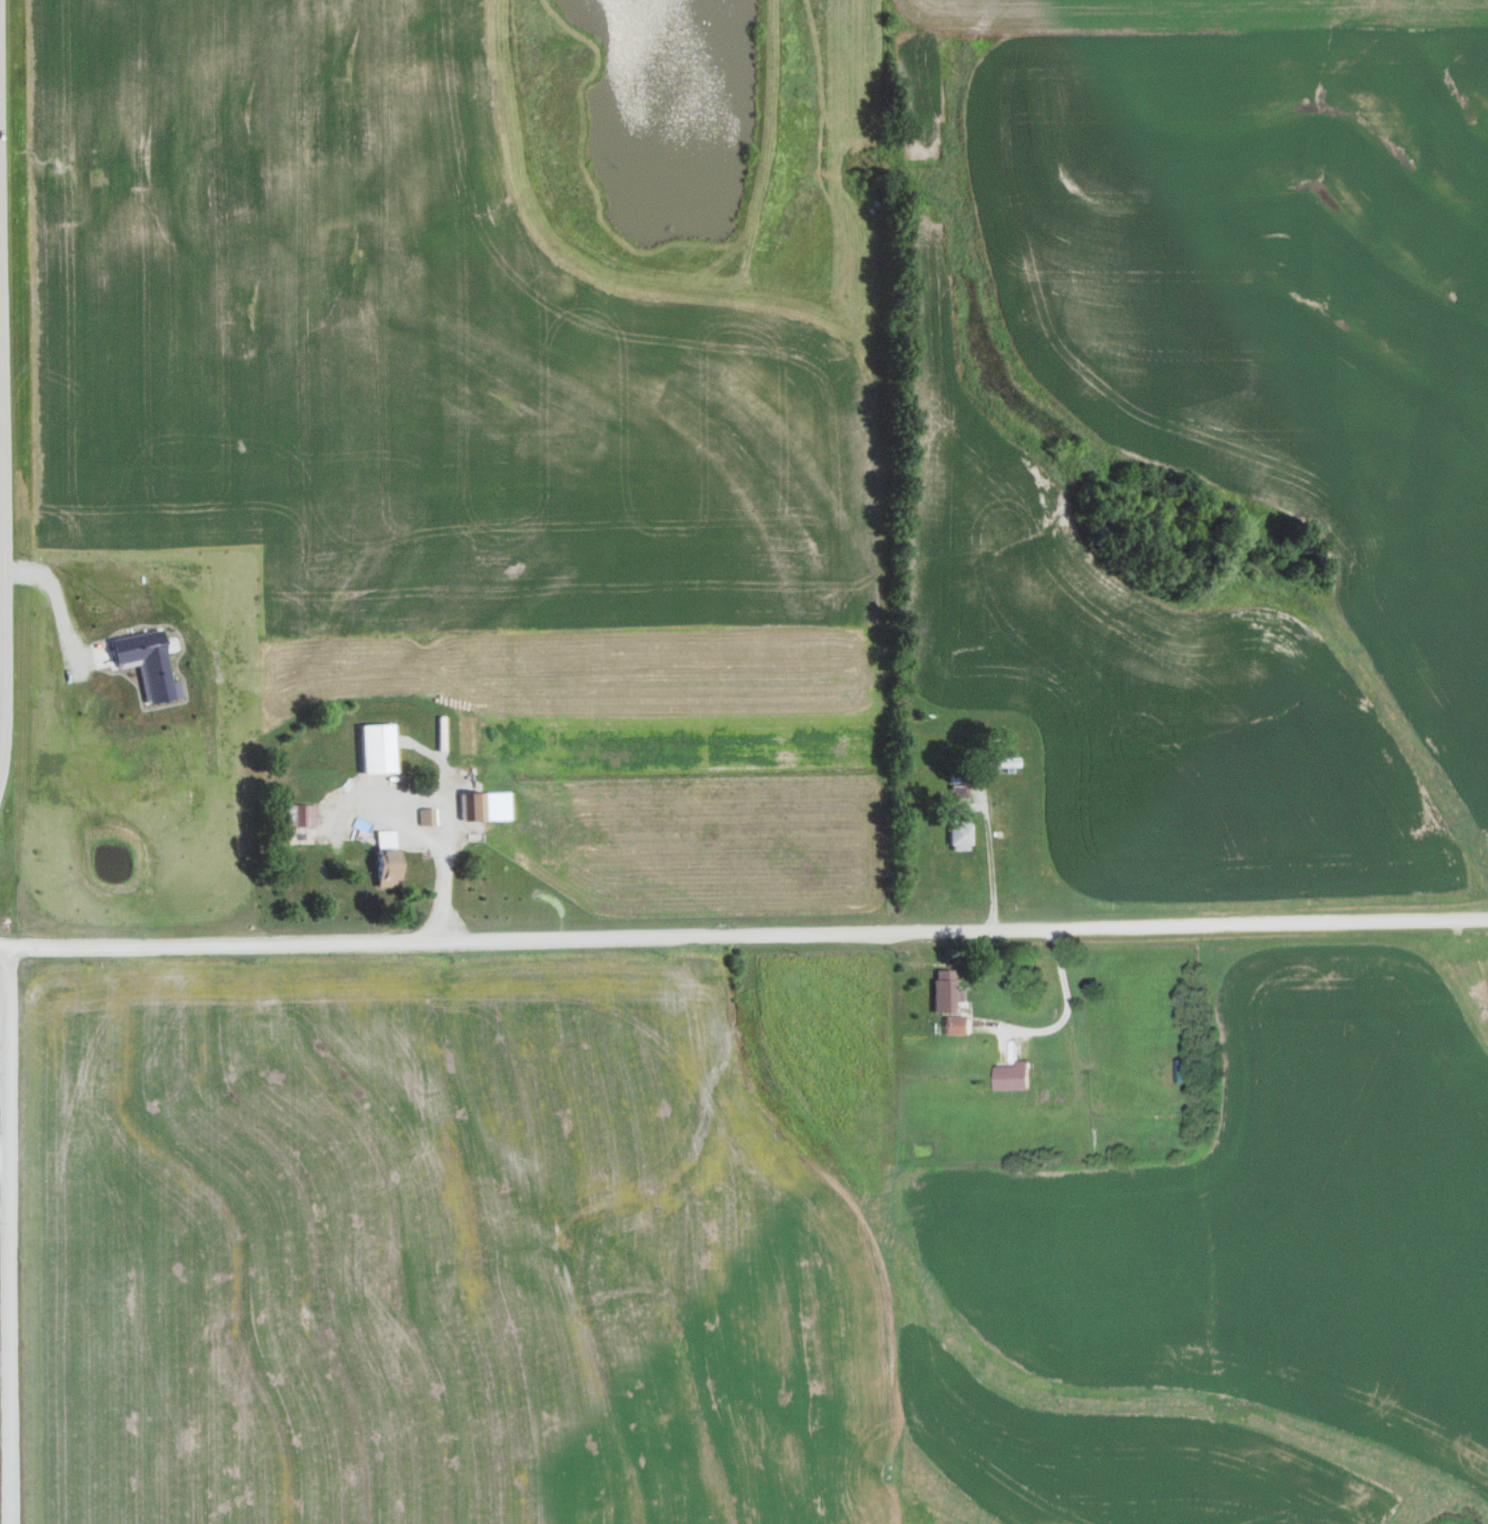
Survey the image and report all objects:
road: (3, 448)
building: (376, 747)
building: (998, 760)
building: (958, 782)
building: (471, 805)
building: (302, 814)
building: (959, 832)
building: (385, 857)
road: (637, 878)
road: (744, 936)
building: (945, 990)
building: (955, 1023)
building: (1180, 1068)
building: (1009, 1075)
road: (11, 1236)

